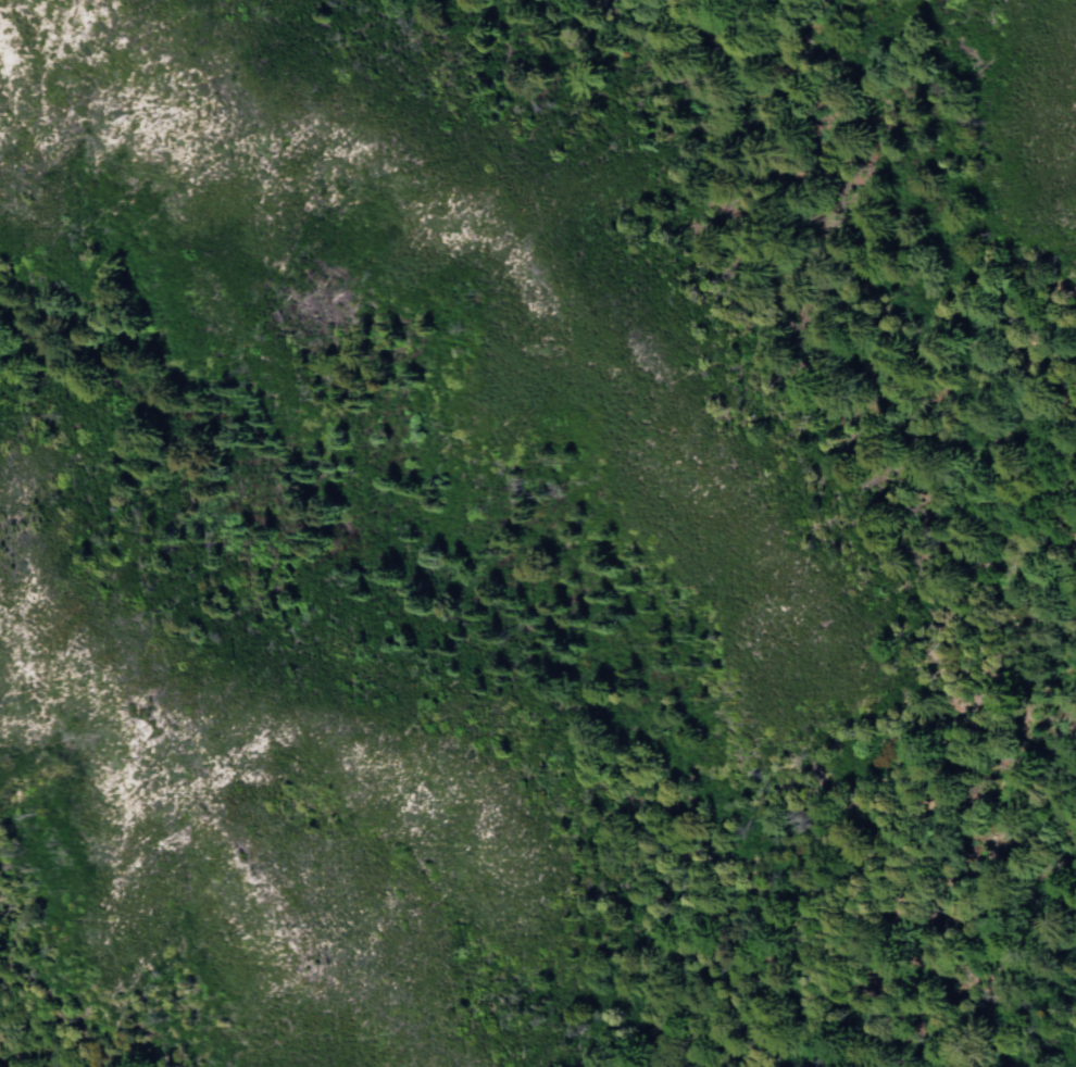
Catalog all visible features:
road: (1001, 250)

